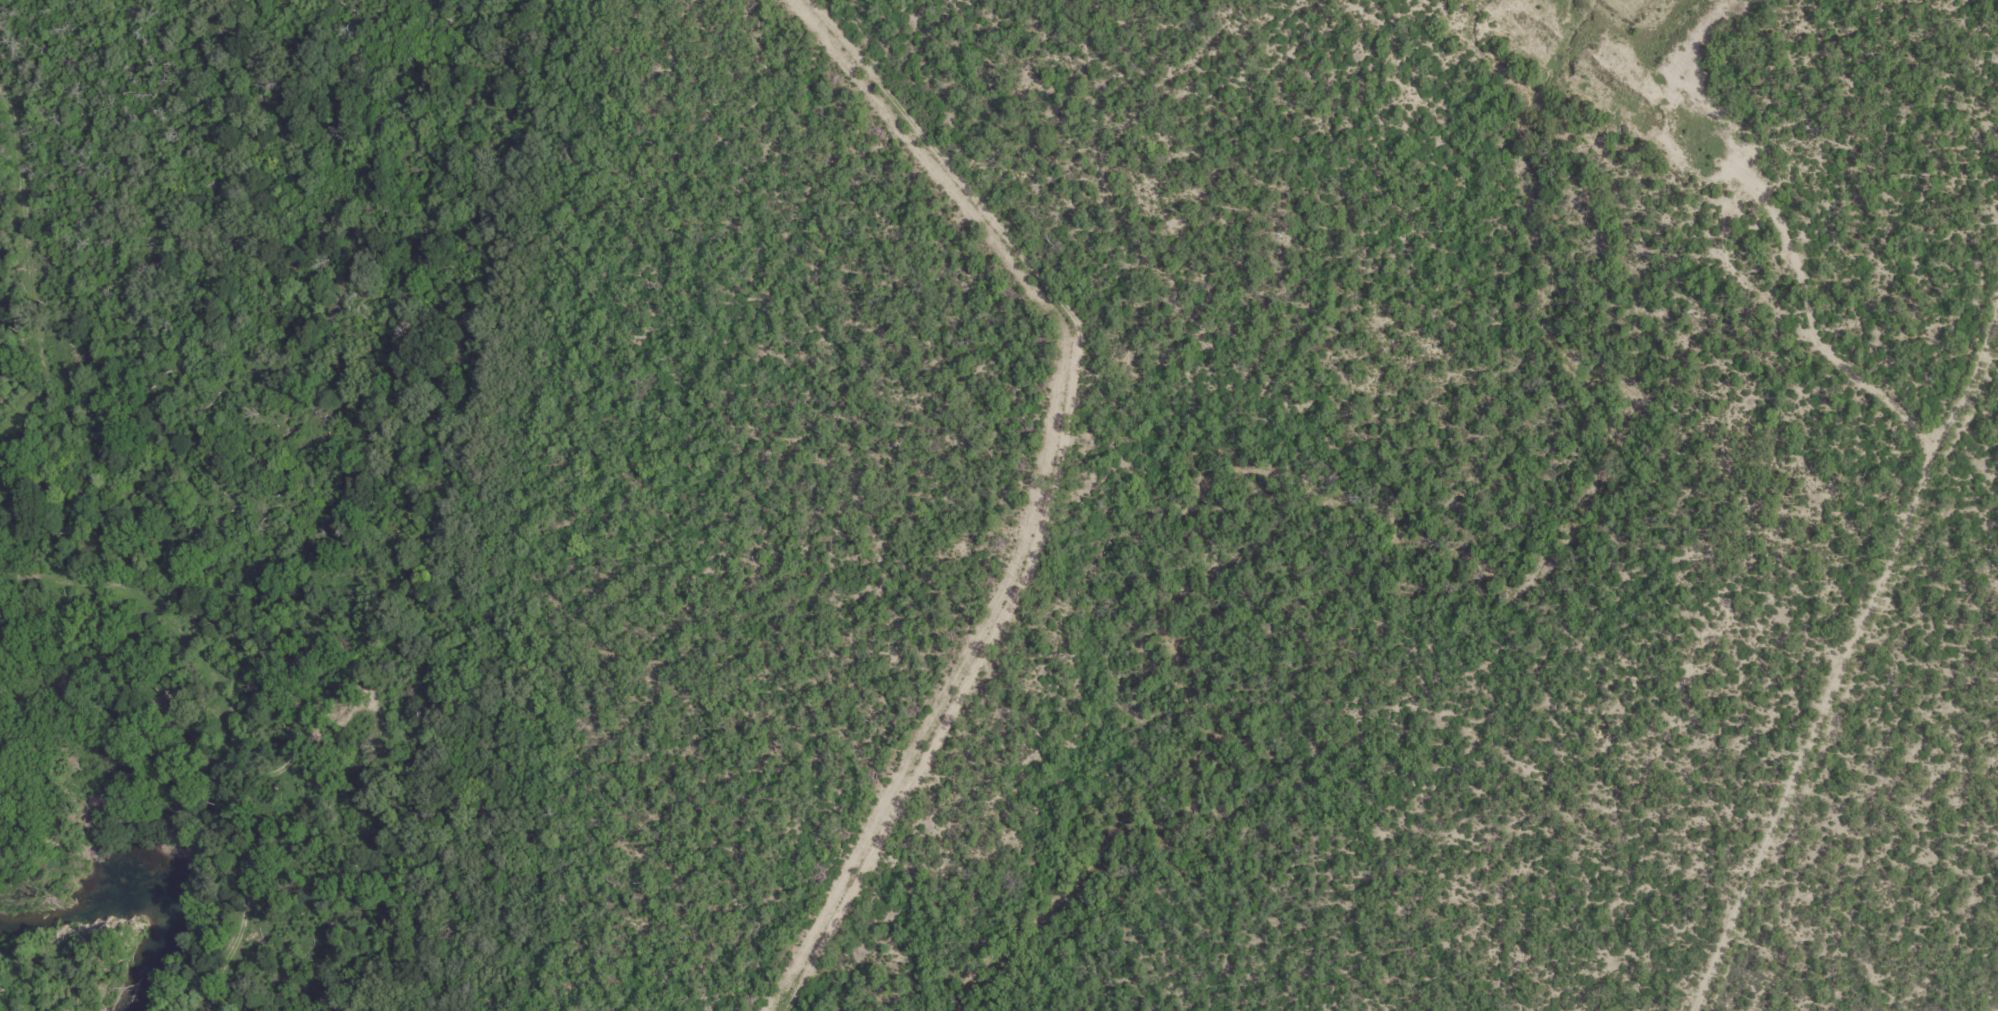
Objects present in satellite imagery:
road: (38, 9)
road: (878, 68)
road: (983, 200)
road: (36, 259)
river: (2, 323)
road: (232, 723)
river: (148, 866)

